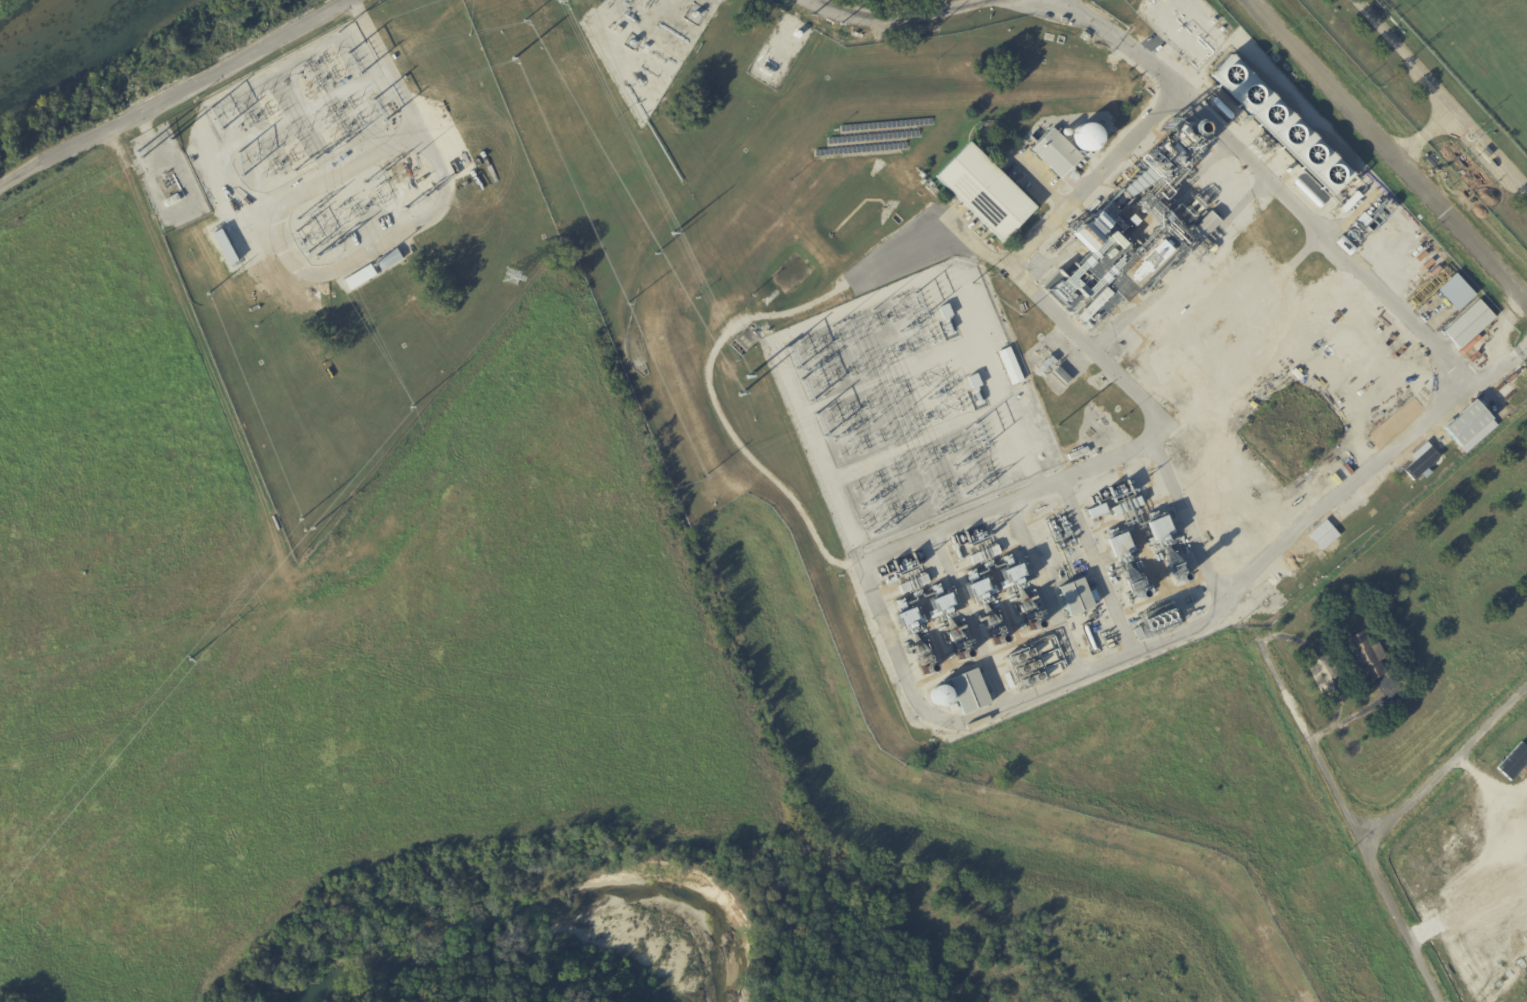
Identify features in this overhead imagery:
power tower: (561, 3)
road: (904, 14)
power tower: (526, 21)
river: (36, 28)
building: (619, 31)
power tower: (337, 35)
building: (1086, 36)
building: (647, 47)
crop: (1480, 51)
power tower: (511, 61)
road: (1442, 95)
road: (171, 97)
wastewater plant: (1433, 103)
building: (1278, 126)
chimney: (1190, 127)
road: (1424, 132)
building: (1088, 139)
storage tank: (1088, 139)
power tower: (171, 143)
road: (1390, 150)
building: (1058, 153)
building: (1489, 153)
power tower: (138, 156)
building: (406, 163)
building: (987, 193)
building: (173, 200)
building: (1353, 202)
building: (323, 204)
road: (1064, 209)
building: (1207, 227)
power tower: (674, 236)
road: (1327, 238)
power substation: (347, 239)
building: (1347, 246)
building: (1402, 252)
power tower: (656, 254)
building: (390, 261)
building: (361, 278)
power tower: (512, 280)
building: (1455, 292)
power tower: (209, 294)
power tower: (628, 305)
building: (1097, 307)
power tower: (1019, 320)
power plant: (1003, 324)
building: (1470, 325)
road: (729, 331)
building: (745, 341)
building: (1050, 363)
building: (1013, 368)
building: (1064, 377)
power tower: (750, 380)
building: (1502, 388)
building: (1506, 392)
building: (1510, 397)
power tower: (742, 398)
power substation: (912, 403)
power tower: (413, 409)
building: (1471, 424)
power tower: (1058, 428)
building: (1432, 453)
building: (1079, 454)
road: (1372, 472)
power tower: (703, 480)
building: (1399, 489)
building: (1096, 511)
power tower: (300, 520)
building: (1158, 527)
power tower: (314, 530)
building: (1119, 546)
chimney: (1180, 576)
building: (909, 585)
building: (977, 588)
chimney: (1139, 592)
building: (1077, 598)
building: (906, 616)
building: (1156, 622)
chimney: (1036, 624)
chimney: (1000, 639)
building: (1043, 647)
chimney: (964, 654)
building: (1370, 658)
power tower: (190, 659)
chimney: (927, 667)
building: (1024, 668)
building: (970, 693)
building: (940, 695)
road: (939, 719)
road: (1313, 750)
building: (1515, 763)
road: (1386, 828)
river: (491, 921)

